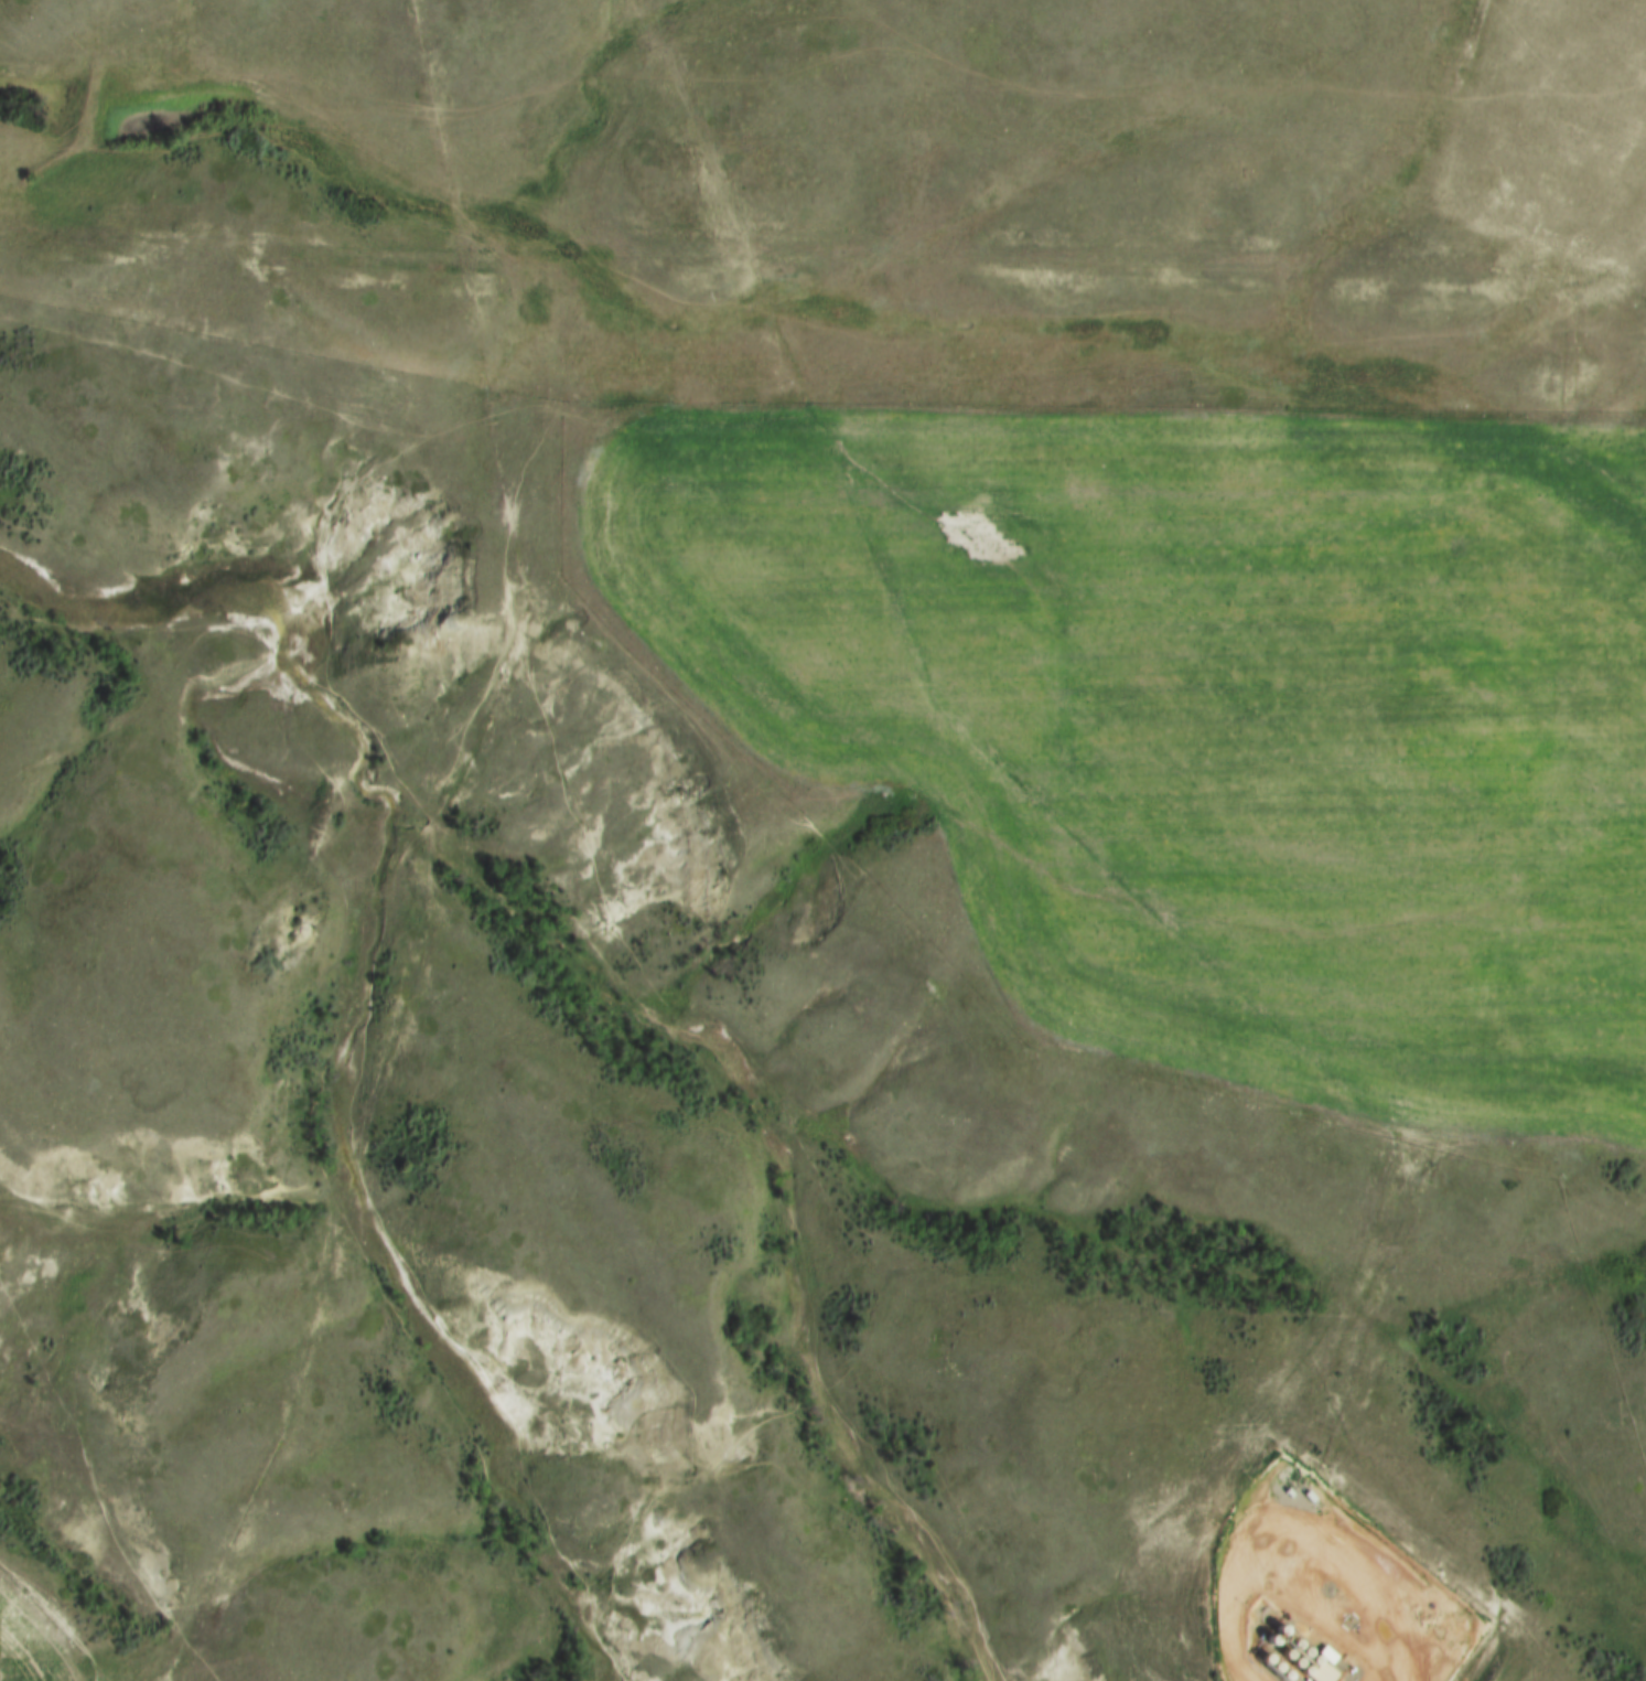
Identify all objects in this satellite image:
road: (1276, 1580)
building: (1270, 1626)
building: (1328, 1643)

